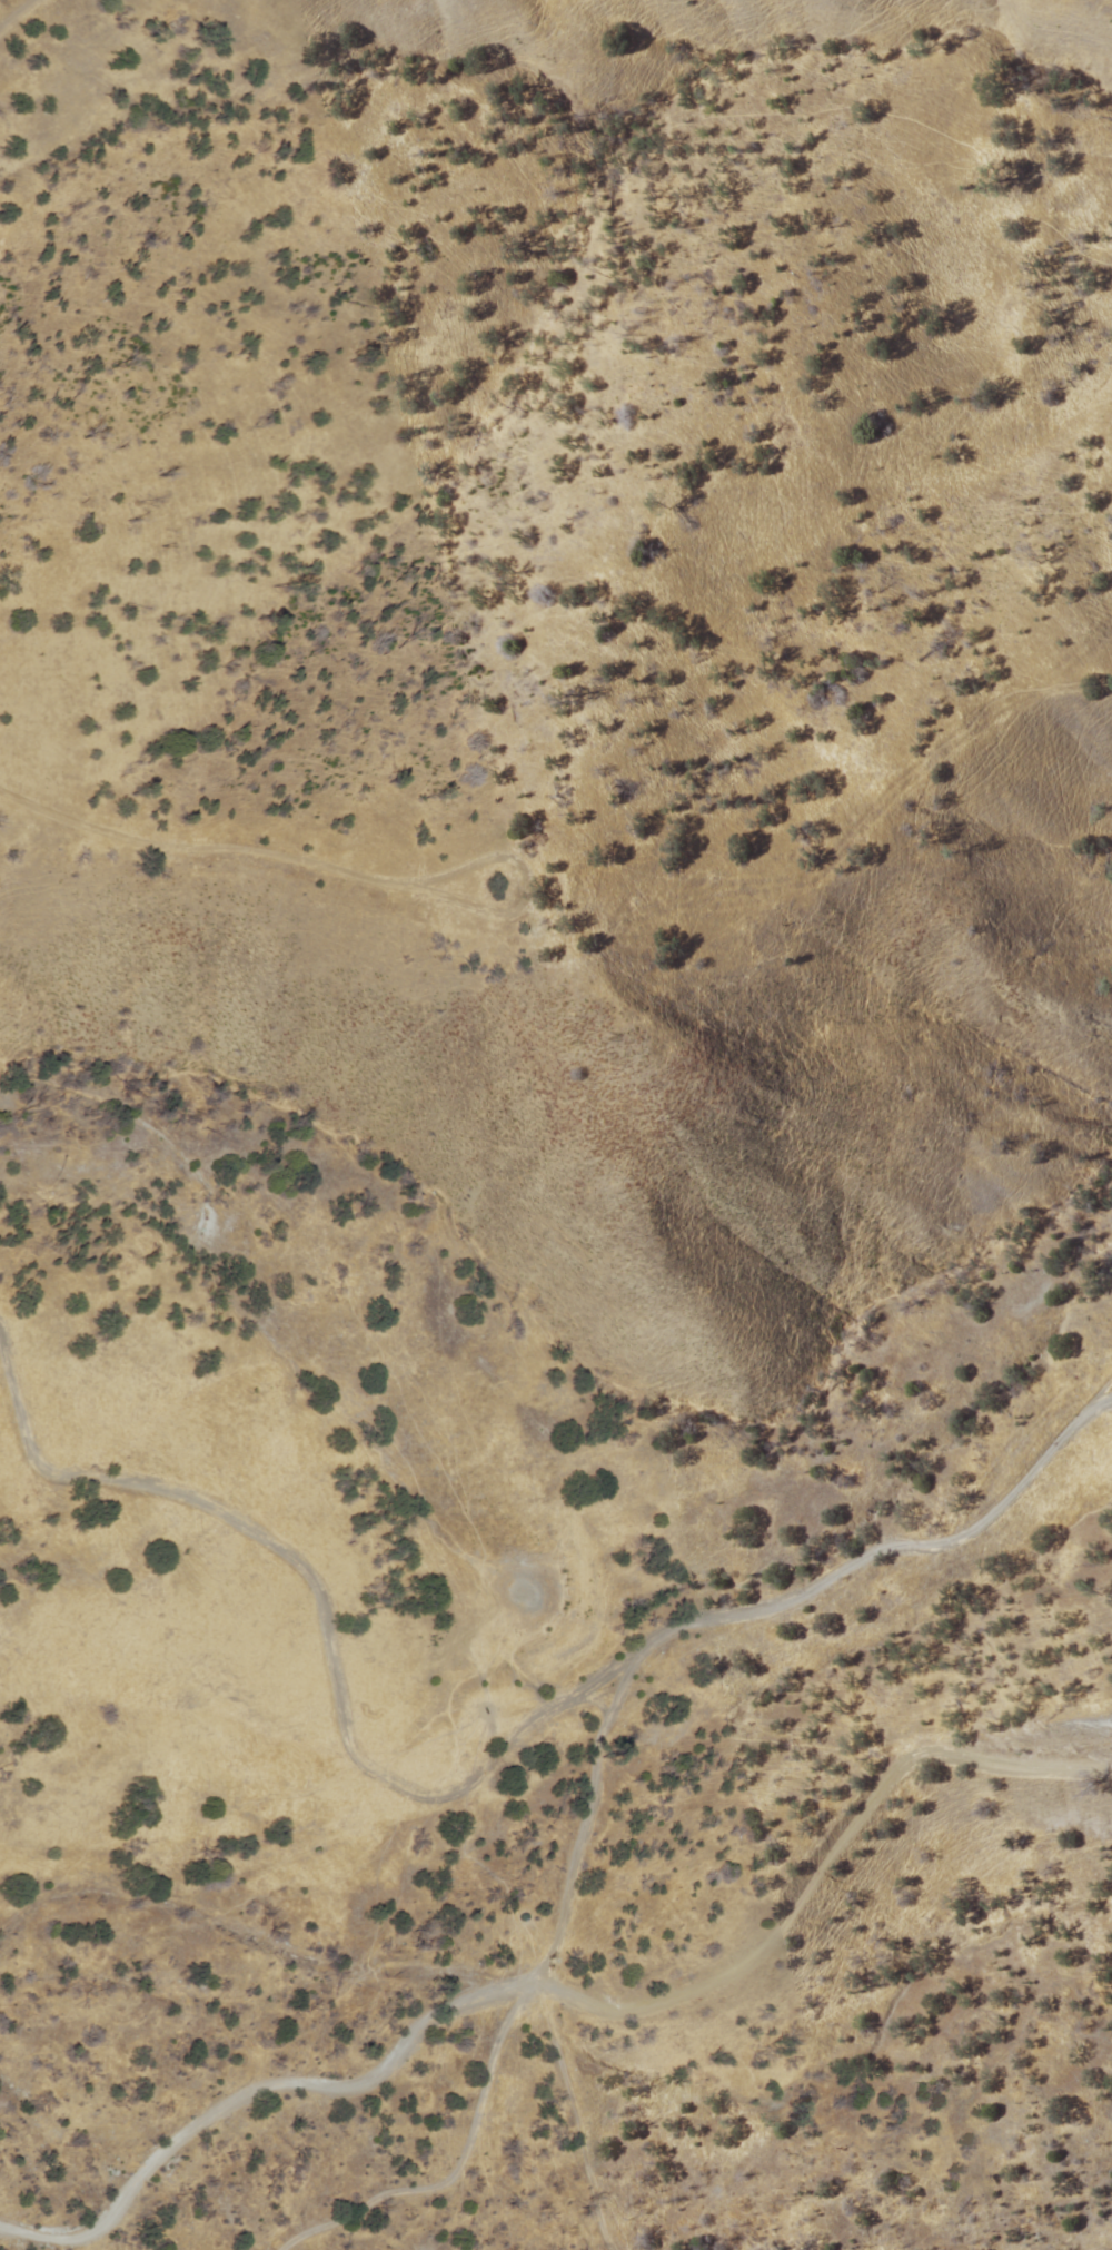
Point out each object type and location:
road: (436, 1814)
road: (543, 1970)

